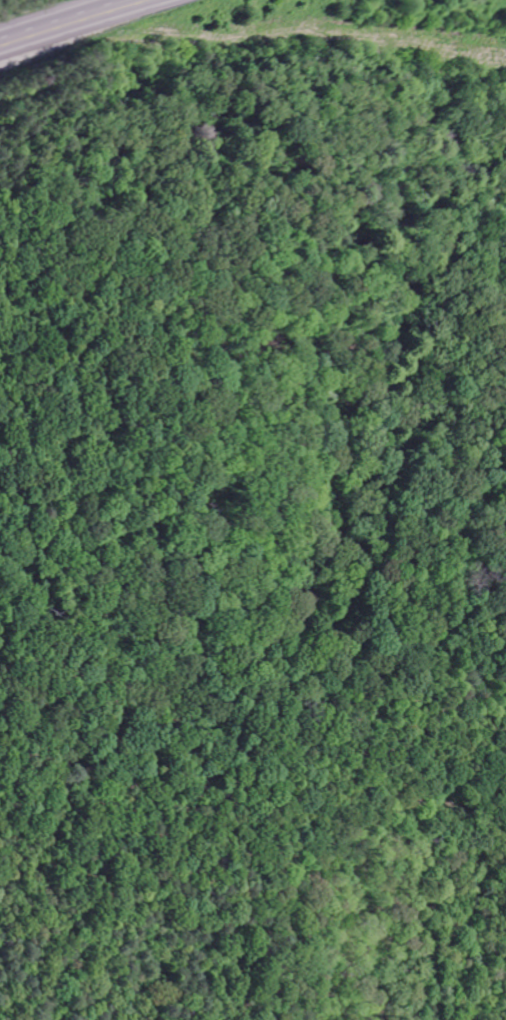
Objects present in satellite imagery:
road: (77, 25)

